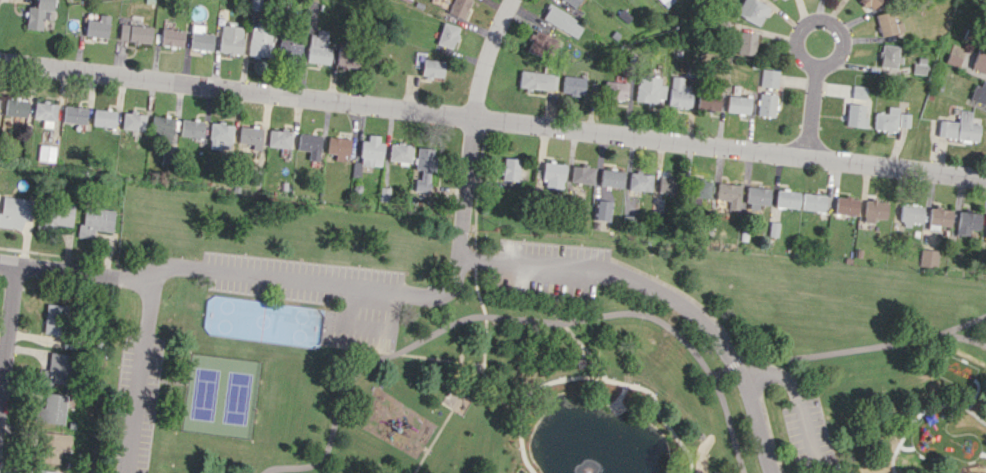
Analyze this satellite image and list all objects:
building: (572, 2)
building: (667, 2)
building: (871, 3)
building: (457, 8)
building: (753, 10)
building: (38, 14)
road: (820, 19)
building: (561, 21)
building: (887, 24)
building: (97, 26)
building: (134, 33)
building: (446, 35)
building: (171, 37)
building: (230, 39)
building: (200, 40)
building: (745, 42)
building: (259, 43)
building: (538, 43)
building: (318, 48)
building: (289, 49)
building: (888, 55)
building: (952, 59)
building: (979, 61)
building: (919, 65)
building: (430, 68)
building: (769, 78)
building: (537, 80)
building: (573, 85)
building: (615, 90)
building: (650, 90)
building: (680, 92)
building: (858, 92)
building: (979, 92)
building: (709, 100)
building: (738, 104)
building: (766, 104)
building: (16, 107)
road: (812, 111)
building: (45, 113)
building: (74, 114)
building: (855, 115)
building: (103, 117)
road: (471, 118)
building: (885, 119)
road: (493, 120)
building: (132, 121)
building: (162, 125)
building: (191, 128)
building: (958, 128)
building: (219, 136)
building: (250, 136)
building: (278, 138)
building: (308, 144)
building: (337, 147)
building: (369, 151)
building: (399, 152)
building: (46, 153)
building: (421, 168)
building: (510, 169)
building: (553, 174)
building: (582, 174)
building: (611, 177)
building: (640, 181)
building: (667, 184)
building: (702, 188)
building: (729, 194)
building: (757, 197)
building: (787, 198)
building: (812, 201)
building: (845, 205)
building: (604, 210)
building: (874, 210)
building: (15, 211)
building: (910, 214)
building: (53, 216)
building: (939, 216)
building: (94, 222)
building: (967, 223)
building: (985, 233)
road: (499, 250)
building: (927, 257)
parking lot: (551, 268)
road: (76, 271)
parking lot: (214, 276)
road: (476, 282)
building: (260, 318)
building: (53, 319)
road: (459, 321)
road: (6, 322)
road: (965, 324)
road: (965, 338)
park: (514, 350)
road: (825, 351)
building: (53, 369)
road: (140, 372)
park: (218, 393)
road: (800, 403)
building: (50, 409)
road: (728, 420)
building: (51, 446)
building: (43, 471)

